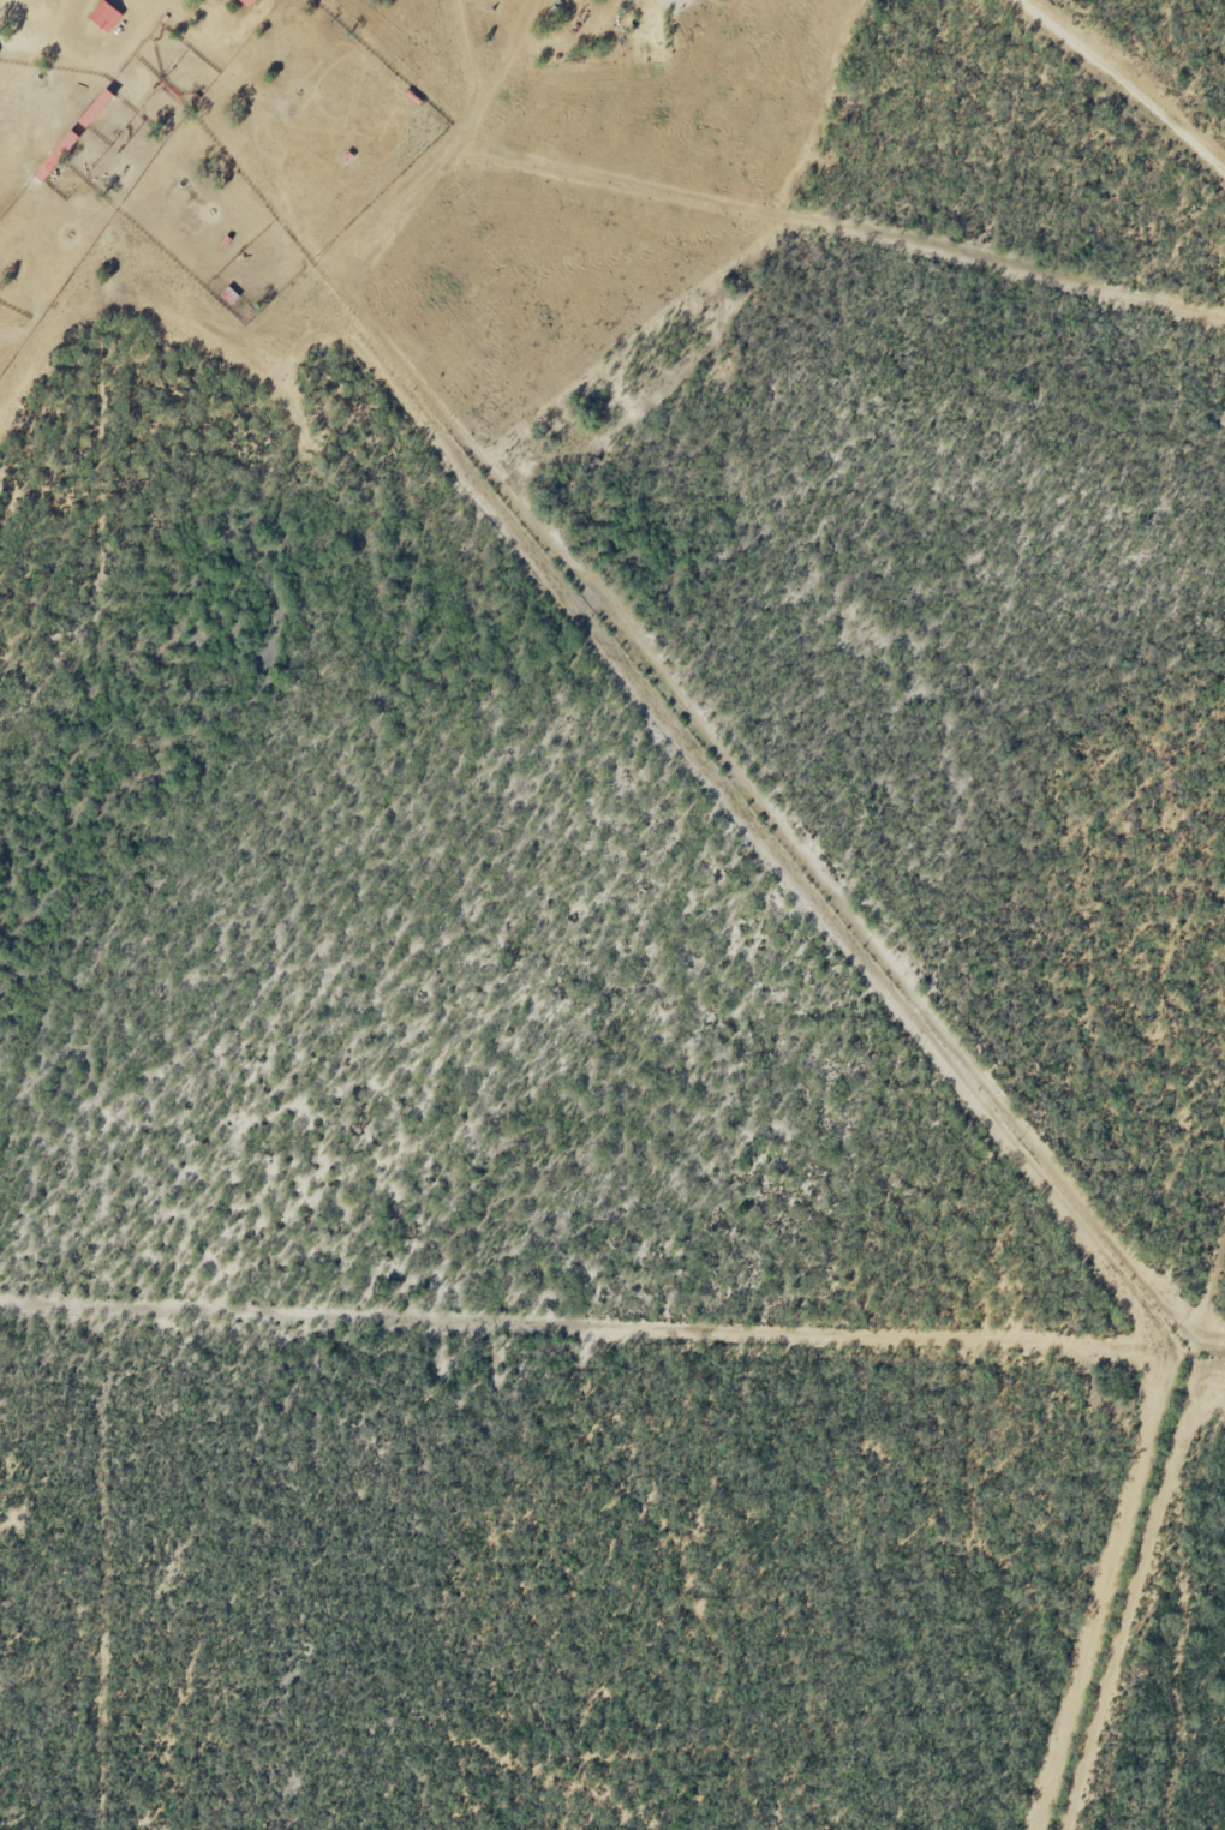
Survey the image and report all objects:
building: (247, 2)
building: (103, 14)
road: (1125, 83)
building: (94, 106)
building: (54, 154)

